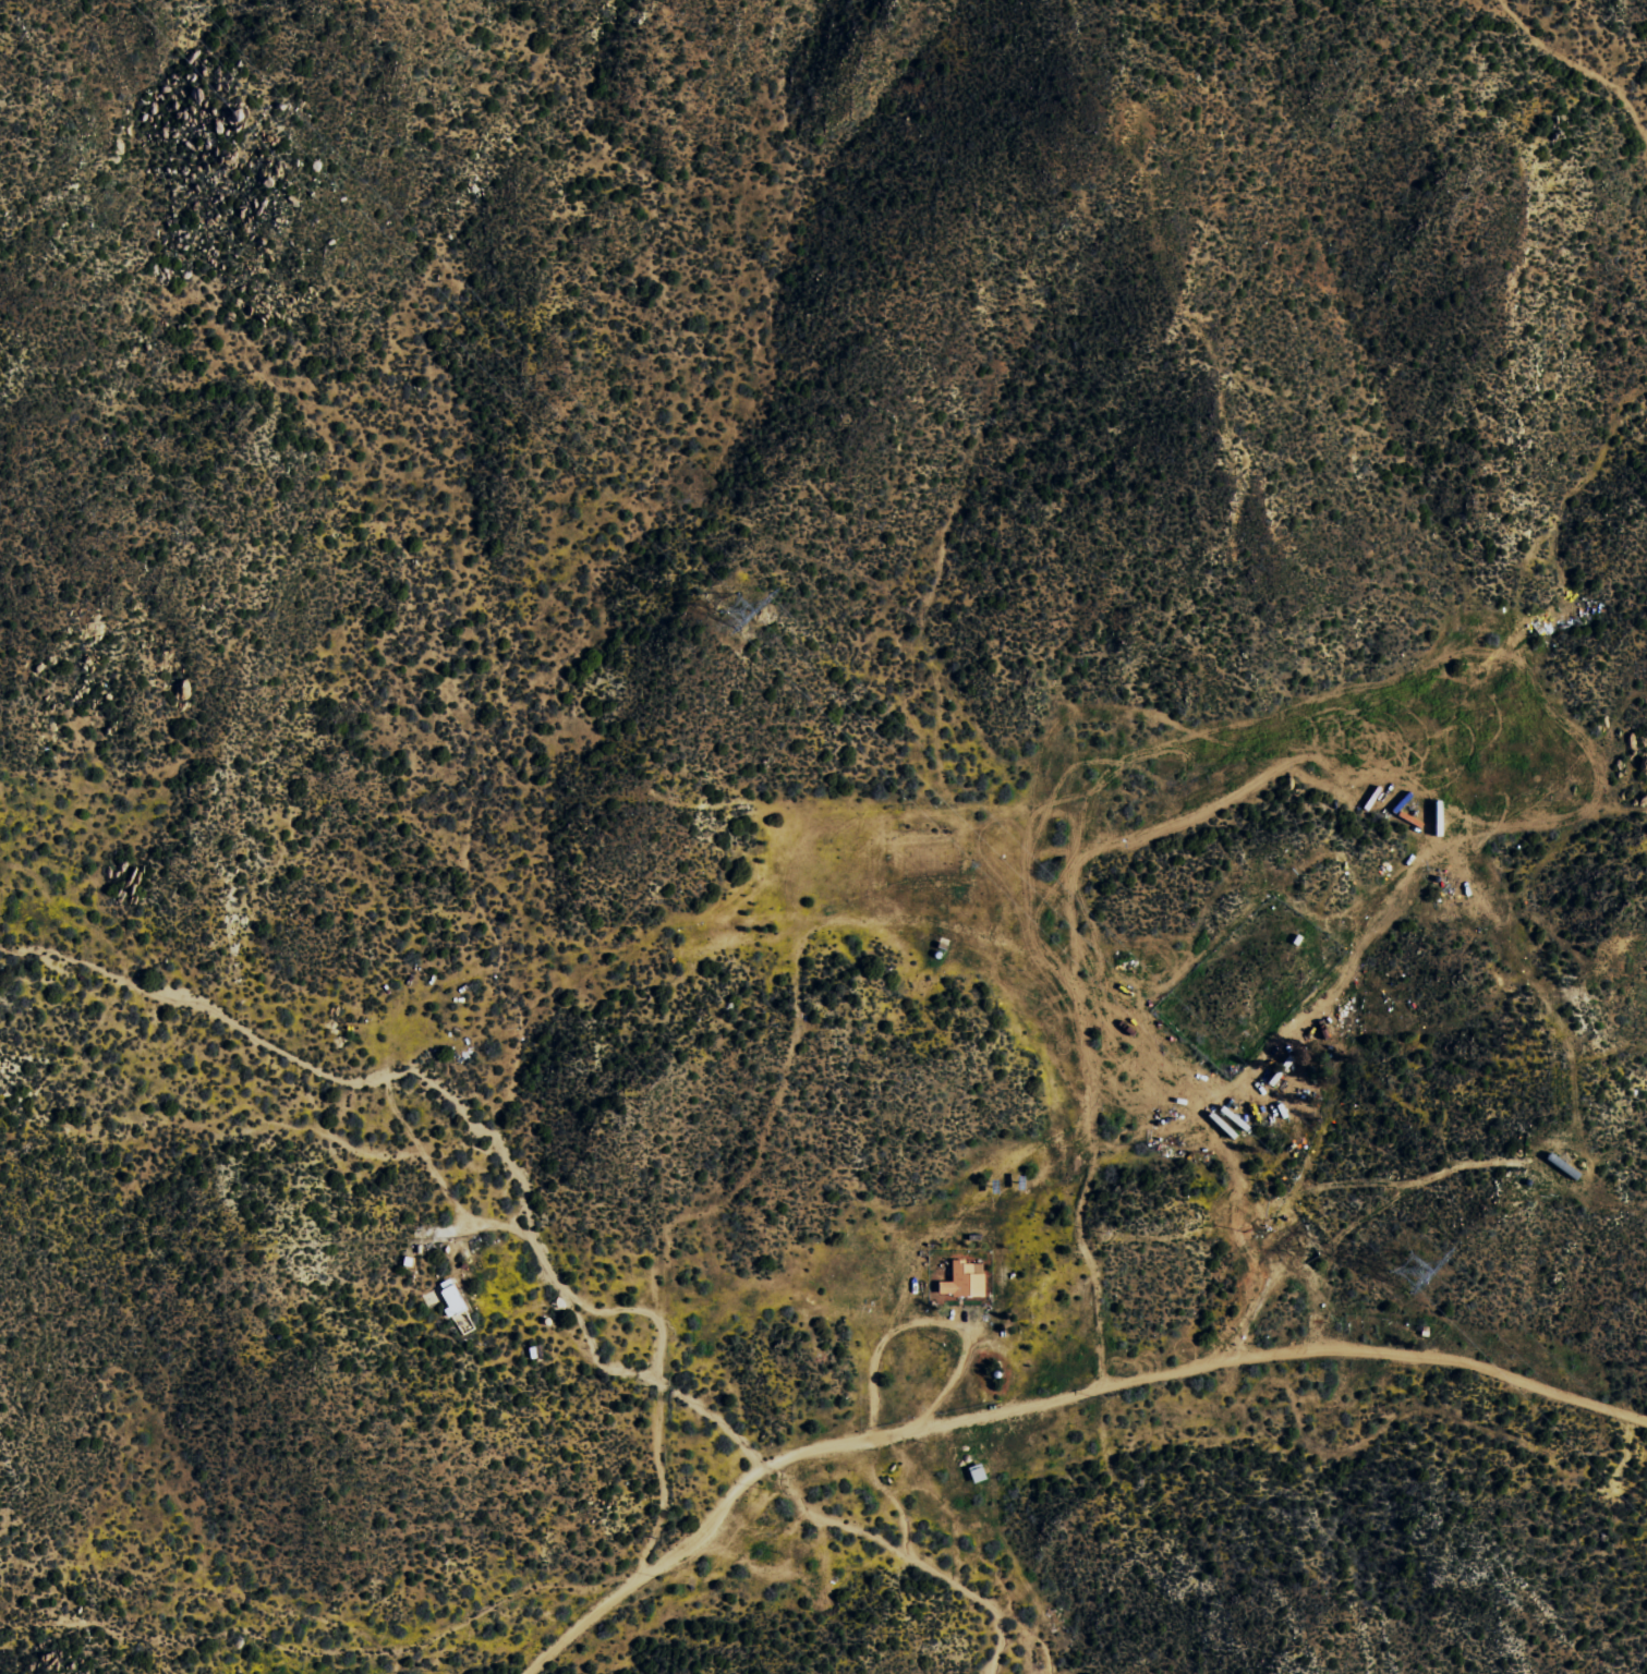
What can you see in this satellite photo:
power tower: (766, 607)
power tower: (1397, 1269)
building: (965, 1278)
building: (451, 1296)
road: (1055, 1399)

